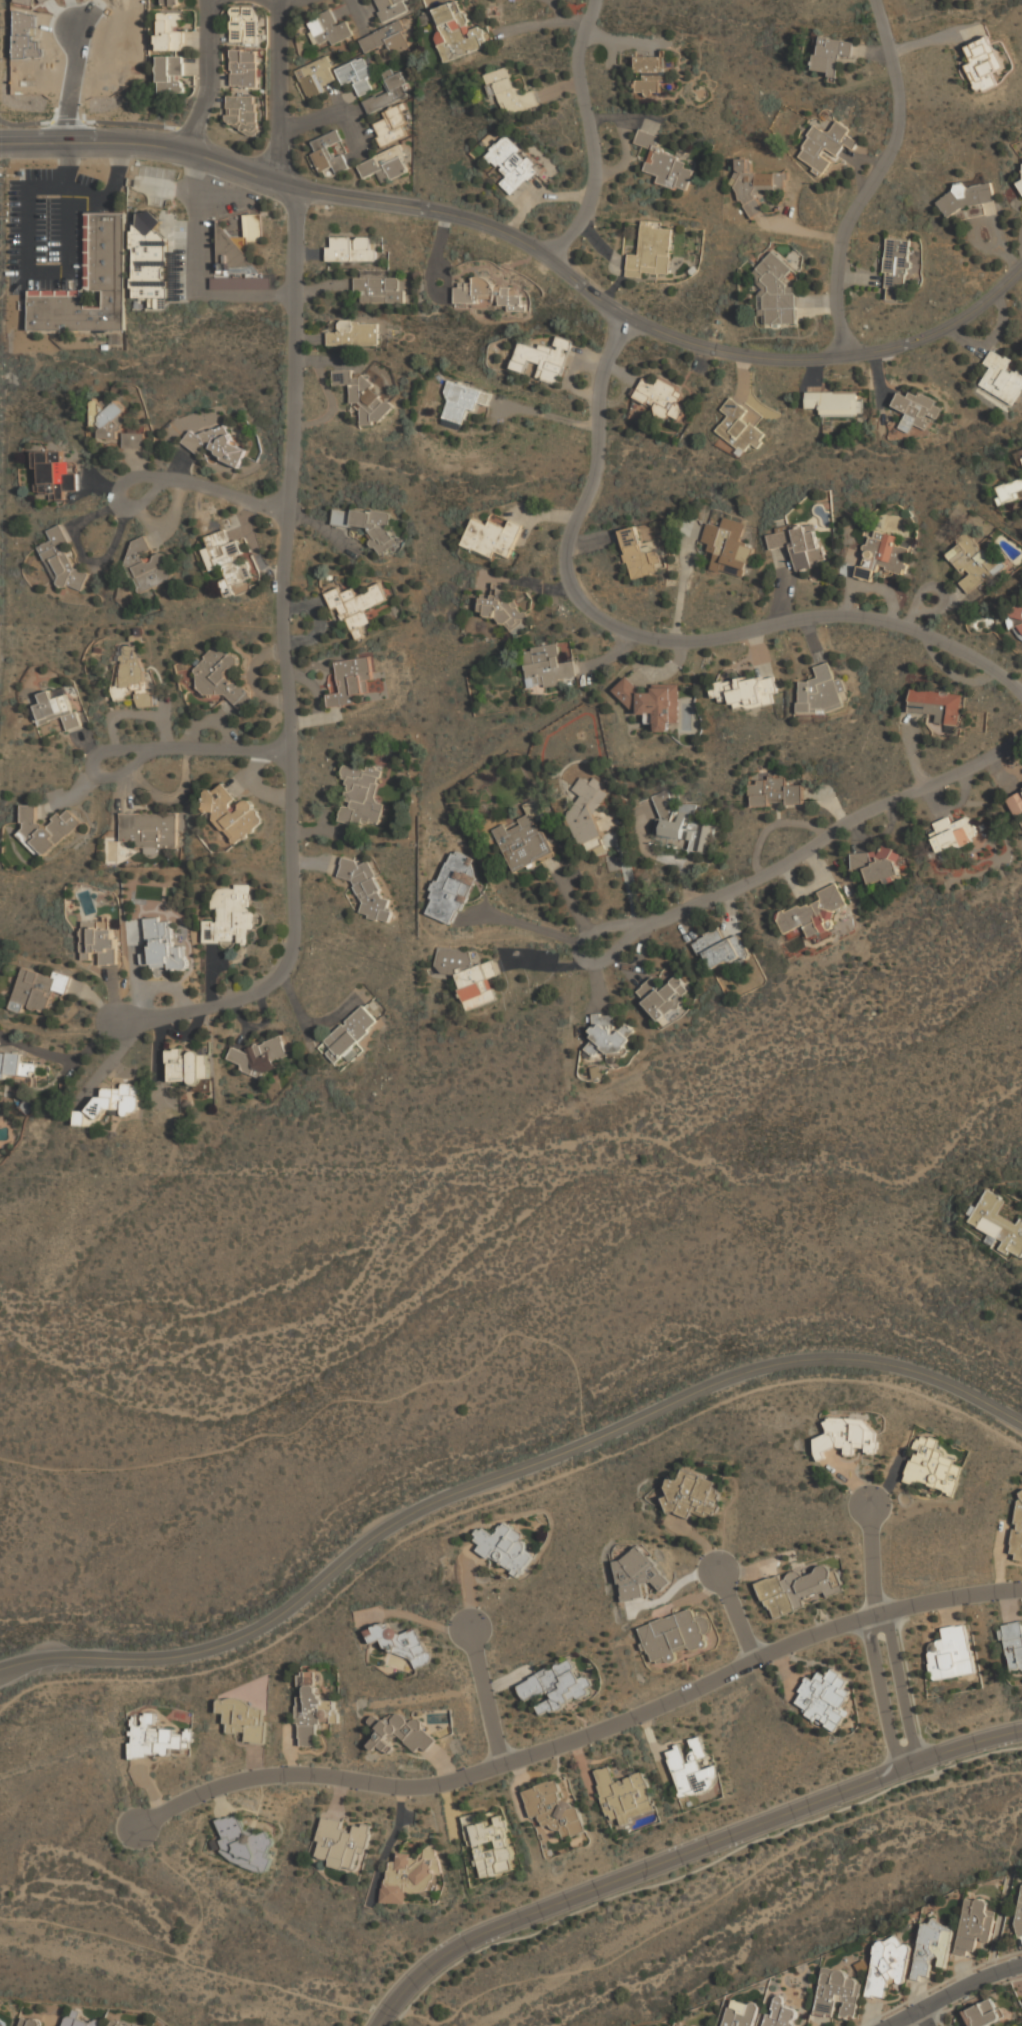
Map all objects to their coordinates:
building: (172, 2)
road: (284, 3)
road: (357, 6)
building: (390, 8)
road: (565, 14)
building: (245, 24)
building: (329, 29)
building: (170, 30)
building: (455, 31)
building: (385, 39)
building: (831, 53)
building: (983, 63)
building: (243, 68)
building: (171, 73)
building: (651, 73)
building: (356, 75)
road: (210, 76)
building: (315, 77)
road: (279, 90)
building: (387, 92)
building: (508, 92)
road: (330, 110)
building: (242, 112)
building: (390, 126)
road: (590, 133)
road: (56, 142)
building: (825, 145)
building: (328, 153)
building: (384, 165)
building: (511, 165)
building: (666, 165)
road: (875, 177)
building: (755, 186)
road: (67, 187)
building: (1021, 189)
building: (967, 196)
road: (297, 214)
road: (791, 232)
building: (351, 248)
building: (652, 252)
building: (238, 259)
building: (896, 263)
building: (150, 265)
road: (575, 278)
road: (859, 279)
building: (89, 284)
building: (380, 289)
building: (475, 291)
building: (776, 292)
building: (894, 294)
building: (509, 297)
building: (354, 333)
building: (542, 360)
building: (1002, 378)
building: (661, 393)
building: (363, 395)
building: (836, 402)
building: (459, 403)
building: (916, 408)
building: (106, 418)
building: (739, 428)
building: (132, 440)
building: (216, 444)
building: (52, 474)
road: (213, 479)
building: (1010, 489)
building: (367, 525)
building: (491, 537)
building: (799, 544)
building: (727, 547)
building: (887, 550)
building: (136, 551)
building: (639, 555)
building: (61, 559)
building: (227, 559)
building: (973, 561)
building: (153, 571)
building: (356, 604)
building: (505, 611)
building: (1018, 617)
road: (656, 633)
building: (547, 666)
building: (134, 675)
building: (222, 676)
building: (350, 680)
road: (298, 691)
building: (747, 691)
building: (822, 691)
building: (650, 702)
building: (937, 706)
building: (55, 708)
road: (220, 744)
road: (91, 767)
building: (775, 793)
building: (362, 795)
building: (1015, 801)
building: (587, 812)
building: (232, 813)
building: (45, 828)
building: (149, 828)
building: (688, 829)
road: (831, 829)
building: (955, 831)
building: (525, 840)
building: (593, 845)
building: (877, 864)
building: (452, 886)
building: (365, 887)
building: (814, 913)
building: (231, 917)
building: (99, 941)
building: (162, 944)
building: (719, 949)
road: (578, 956)
building: (469, 976)
building: (38, 989)
building: (663, 996)
building: (349, 1035)
building: (609, 1038)
building: (261, 1055)
building: (188, 1065)
building: (27, 1069)
building: (110, 1103)
building: (29, 1104)
building: (998, 1222)
park: (341, 1361)
building: (846, 1435)
building: (933, 1466)
road: (502, 1475)
building: (692, 1495)
road: (499, 1498)
building: (1018, 1528)
road: (871, 1544)
building: (504, 1548)
building: (634, 1574)
building: (797, 1589)
road: (738, 1615)
building: (674, 1635)
building: (402, 1643)
building: (1012, 1644)
building: (951, 1653)
road: (897, 1674)
road: (880, 1680)
building: (556, 1688)
road: (486, 1696)
building: (824, 1698)
building: (312, 1710)
building: (245, 1718)
building: (401, 1732)
road: (582, 1736)
road: (920, 1736)
building: (154, 1737)
building: (692, 1771)
building: (624, 1795)
building: (553, 1809)
building: (245, 1842)
building: (342, 1842)
building: (490, 1845)
road: (683, 1853)
building: (411, 1875)
road: (654, 1886)
building: (1020, 1920)
building: (974, 1926)
building: (932, 1948)
building: (888, 1966)
road: (521, 1980)
building: (838, 1994)
road: (957, 1994)
building: (984, 2013)
building: (780, 2014)
building: (739, 2016)
building: (79, 2019)
road: (924, 2019)
building: (28, 2021)
building: (114, 2024)
building: (1, 2025)

